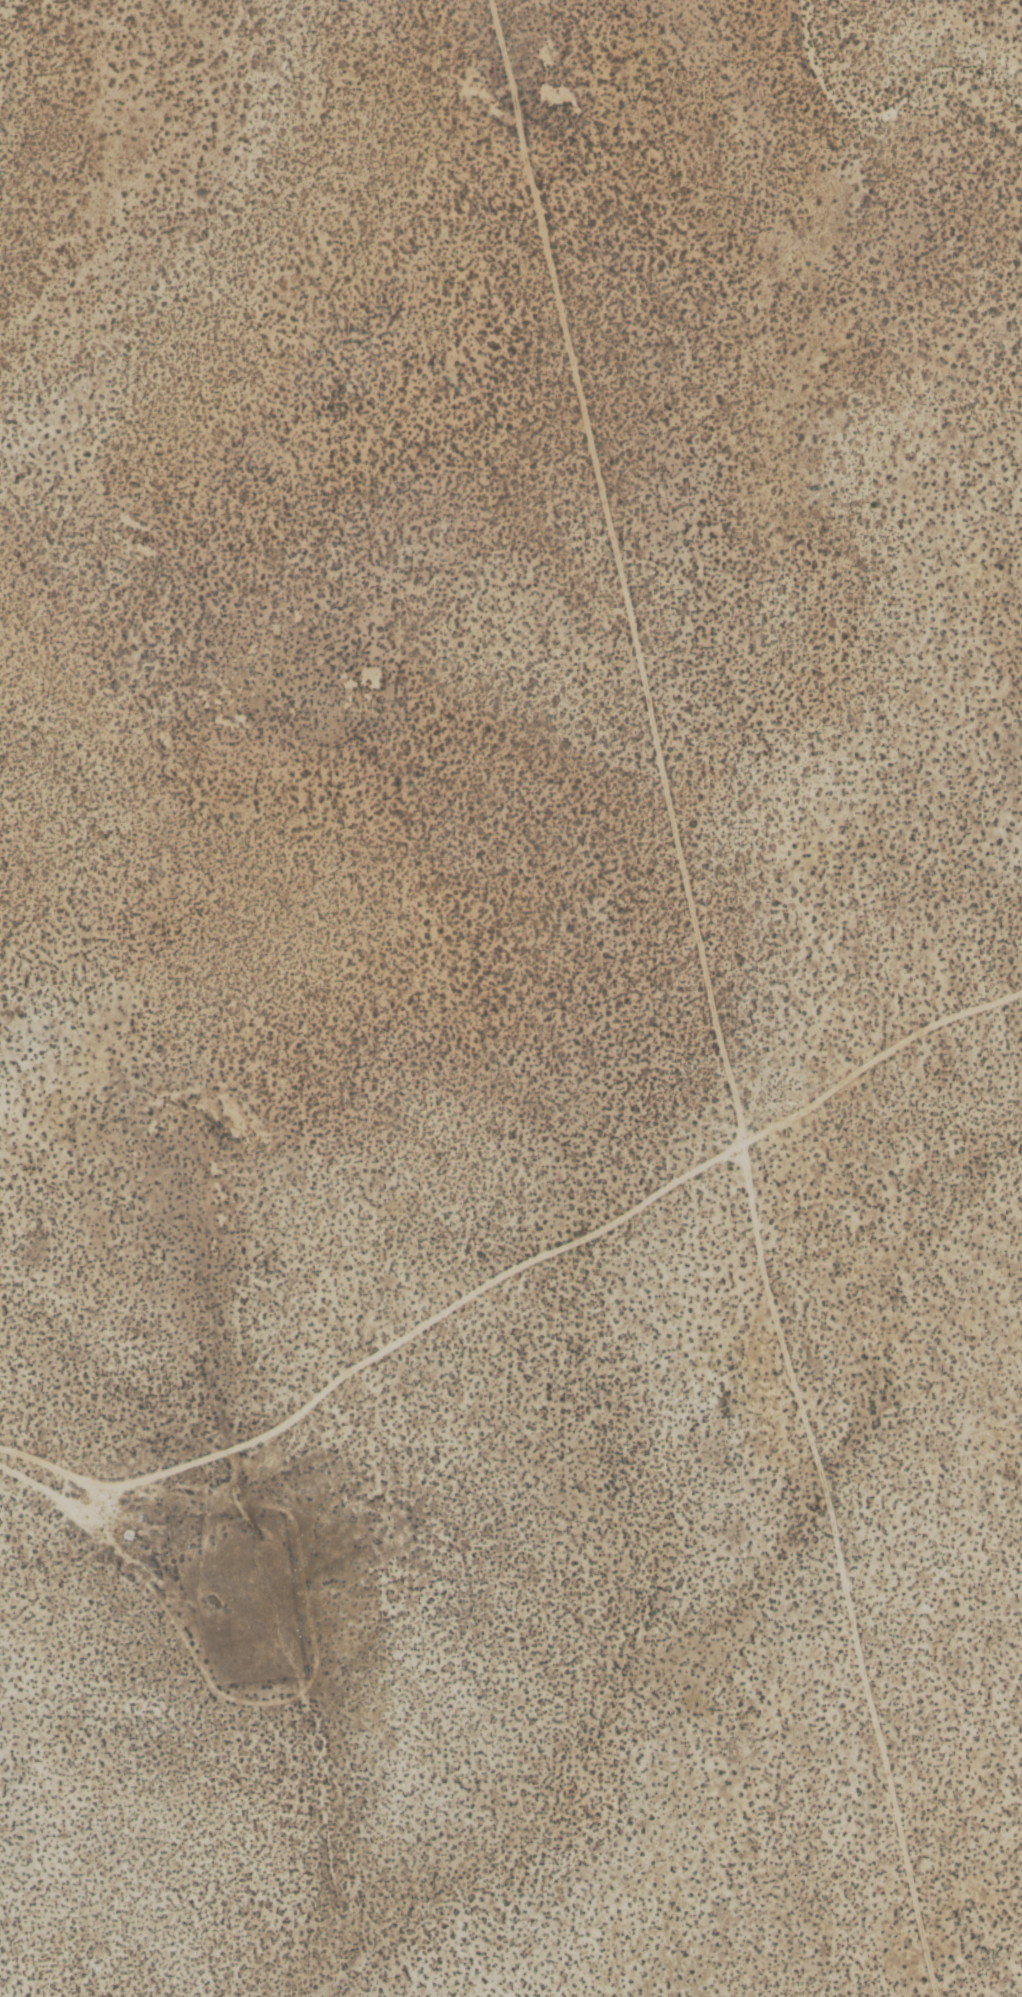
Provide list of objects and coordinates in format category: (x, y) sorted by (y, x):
road: (711, 1000)
road: (876, 1056)
road: (374, 1350)

